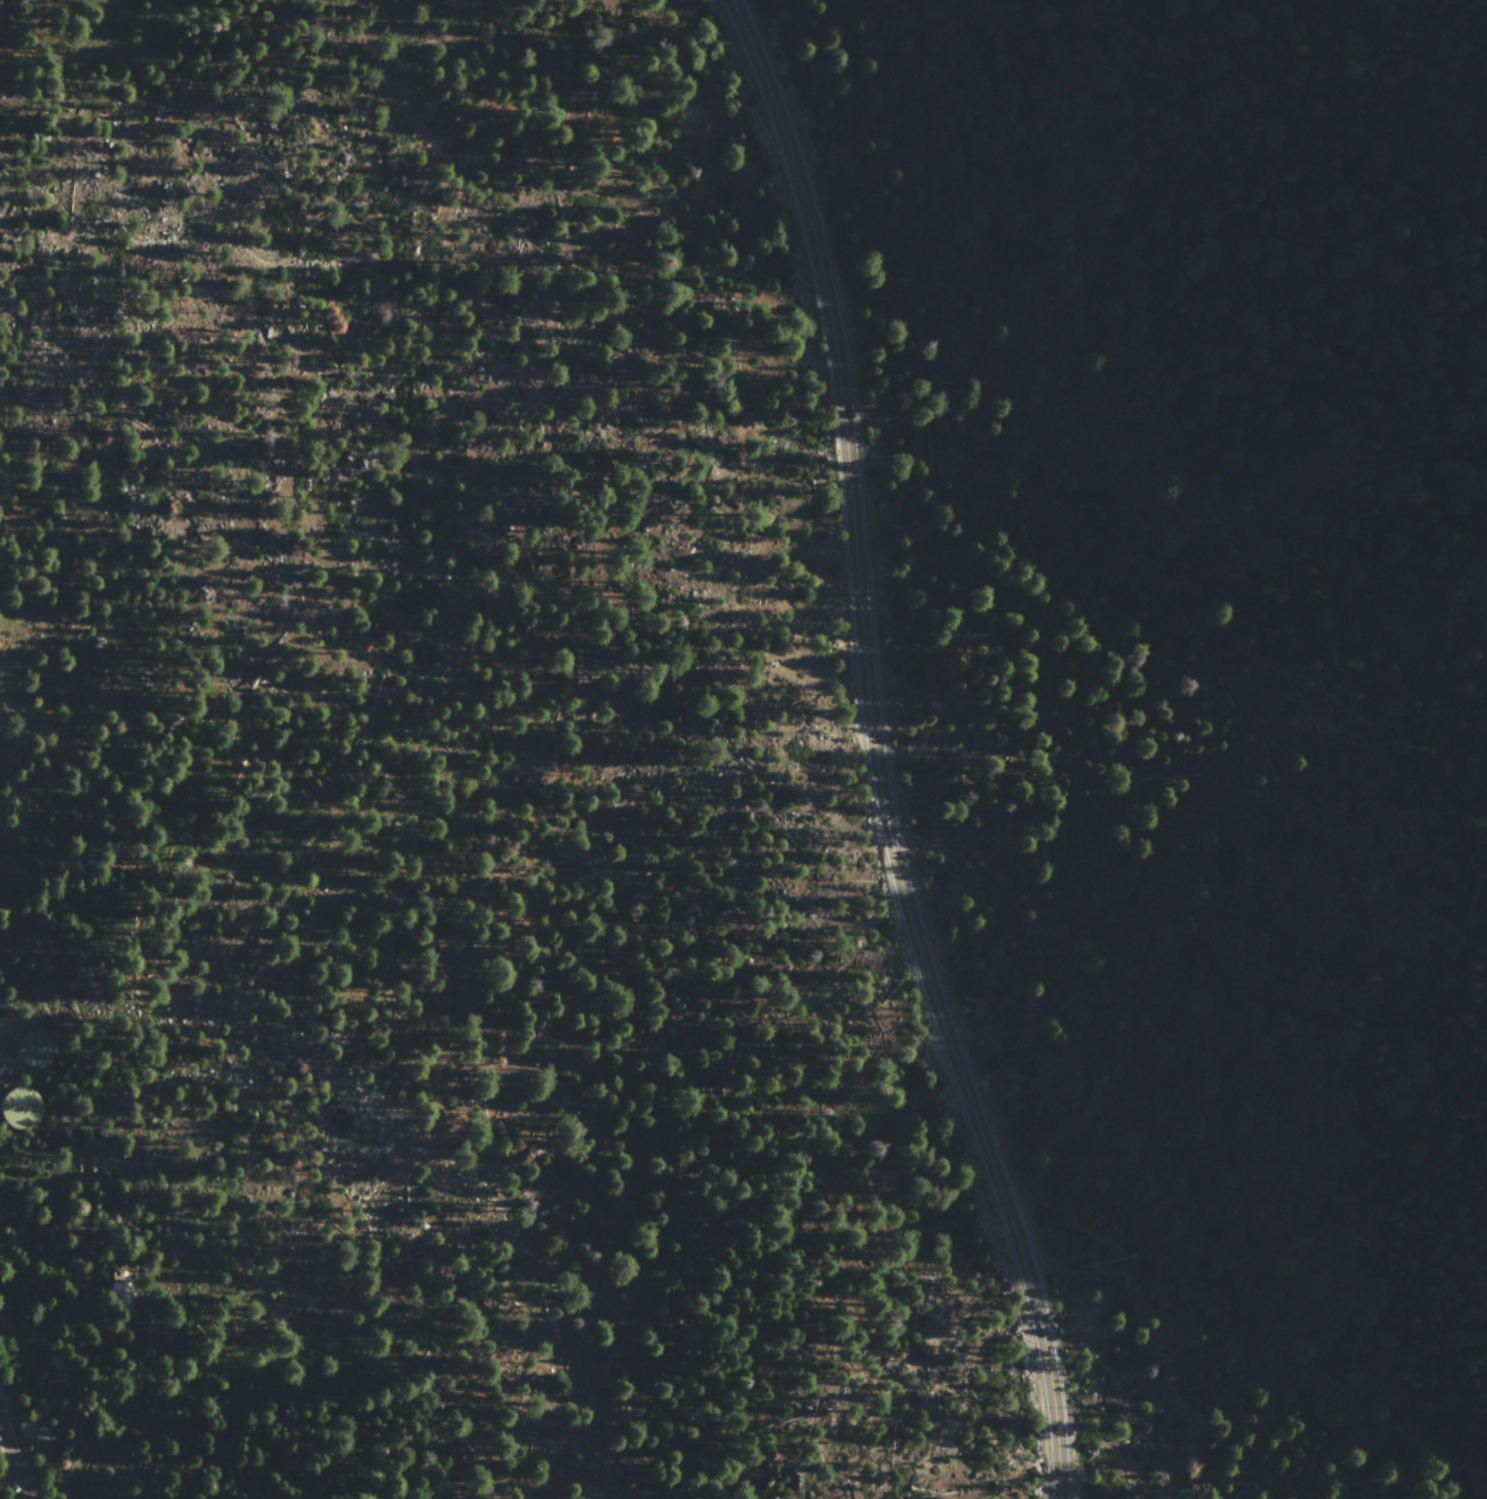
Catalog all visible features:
road: (872, 753)
building: (35, 1049)
building: (18, 1109)
building: (123, 1299)
building: (57, 1370)
road: (31, 1417)
road: (122, 1419)
building: (41, 1441)
road: (9, 1450)
road: (23, 1490)

